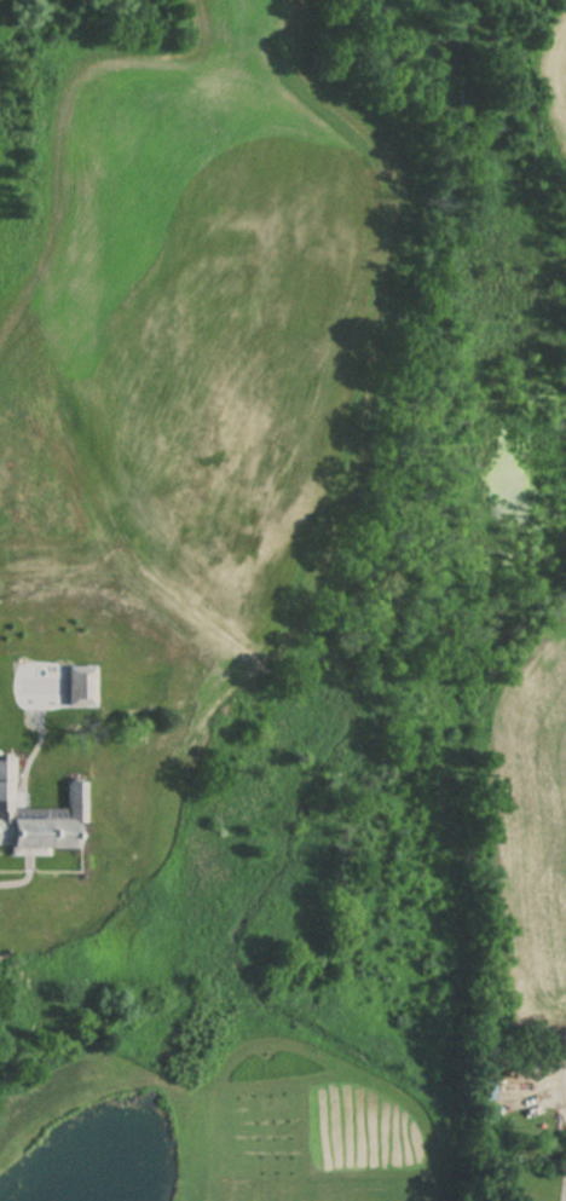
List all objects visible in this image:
road: (564, 1190)

